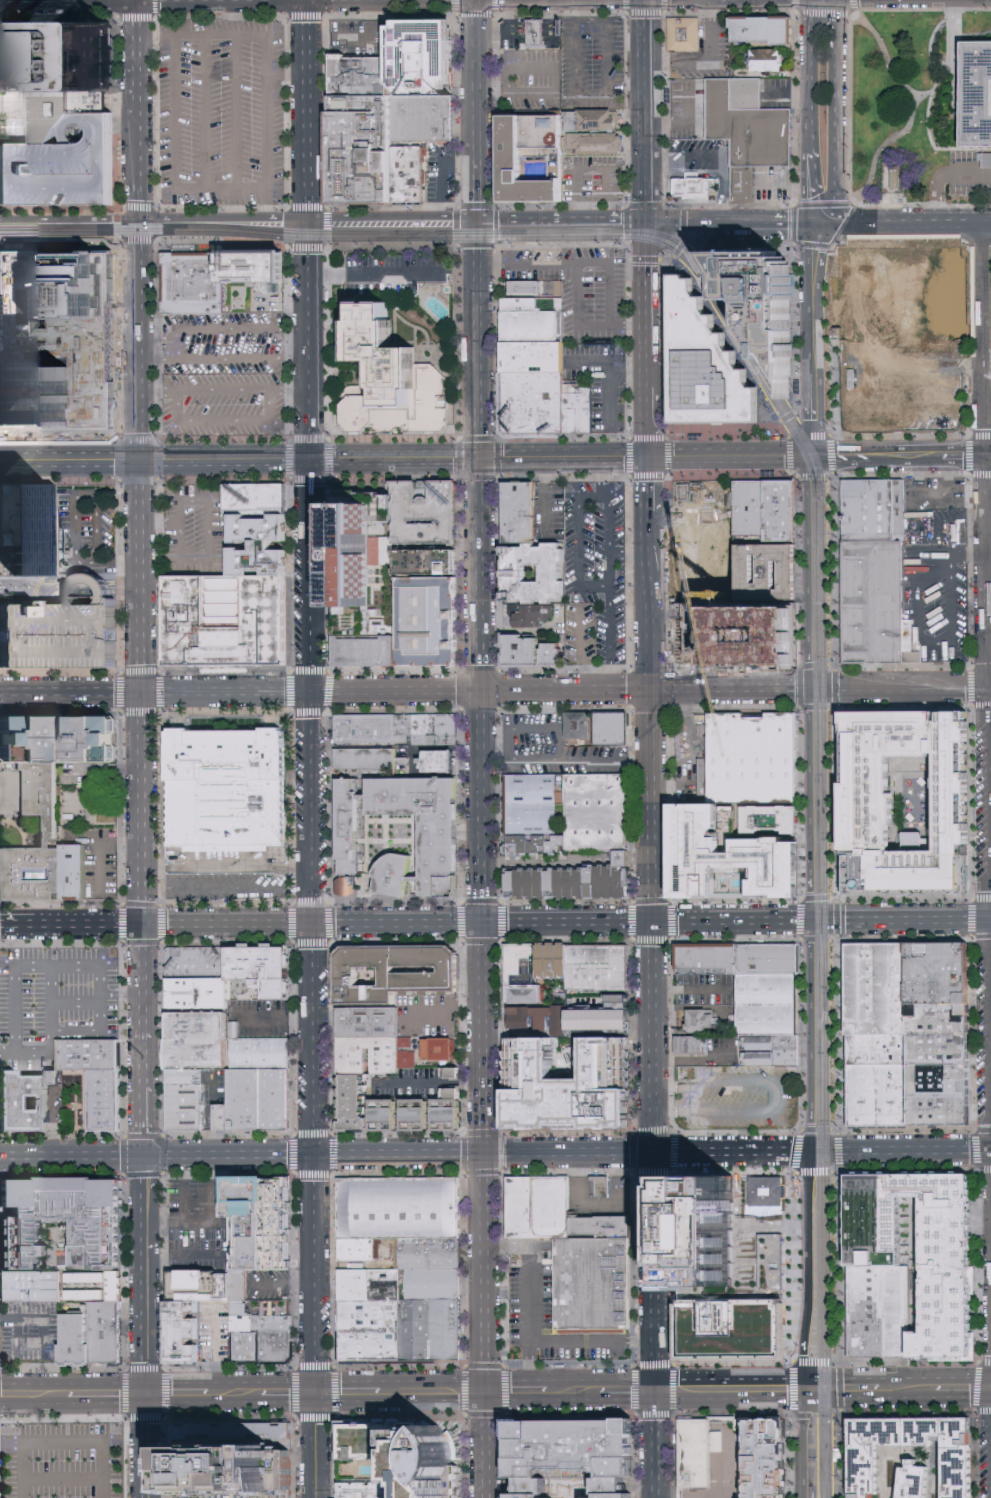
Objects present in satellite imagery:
road: (795, 5)
road: (810, 5)
road: (836, 6)
road: (575, 10)
road: (830, 11)
building: (761, 32)
road: (155, 34)
road: (954, 34)
building: (539, 35)
building: (687, 36)
road: (836, 36)
road: (171, 40)
road: (664, 41)
building: (56, 58)
road: (708, 60)
building: (766, 61)
building: (425, 62)
parking lot: (594, 63)
parking lot: (534, 69)
road: (285, 75)
road: (809, 81)
road: (934, 84)
road: (918, 92)
road: (605, 94)
building: (976, 94)
parking lot: (534, 98)
park: (900, 103)
building: (734, 105)
road: (850, 105)
road: (914, 106)
road: (797, 107)
road: (139, 110)
road: (306, 110)
road: (647, 110)
road: (203, 111)
road: (478, 111)
parking lot: (222, 112)
road: (234, 112)
building: (426, 126)
building: (365, 134)
building: (765, 141)
road: (837, 145)
road: (715, 159)
building: (61, 167)
parking lot: (61, 167)
road: (592, 168)
road: (941, 175)
building: (693, 187)
building: (747, 187)
road: (812, 189)
road: (626, 205)
road: (730, 207)
road: (853, 212)
road: (684, 219)
traffic signals: (648, 220)
road: (70, 221)
traffic signals: (140, 221)
road: (223, 221)
road: (563, 221)
traffic signals: (306, 222)
road: (392, 222)
traffic signals: (478, 222)
road: (733, 223)
road: (797, 223)
road: (990, 224)
traffic signals: (820, 225)
road: (905, 225)
railway: (309, 231)
railway: (138, 232)
railway: (400, 235)
road: (685, 235)
railway: (448, 237)
road: (741, 239)
road: (153, 244)
road: (680, 247)
road: (816, 255)
road: (648, 256)
road: (644, 257)
road: (667, 258)
road: (574, 264)
building: (253, 268)
road: (374, 271)
building: (192, 283)
building: (529, 286)
parking lot: (579, 288)
road: (270, 298)
building: (762, 300)
building: (532, 305)
road: (581, 326)
road: (797, 326)
building: (532, 328)
road: (219, 329)
railway: (746, 332)
railway: (745, 335)
road: (307, 341)
road: (479, 341)
road: (990, 341)
building: (61, 342)
road: (140, 342)
railway: (736, 344)
railway: (743, 350)
building: (533, 358)
road: (223, 359)
road: (814, 361)
road: (607, 362)
building: (705, 366)
parking lot: (223, 375)
road: (649, 375)
building: (390, 381)
road: (158, 390)
road: (288, 390)
road: (668, 397)
building: (531, 402)
building: (577, 411)
road: (611, 411)
road: (783, 419)
road: (269, 422)
road: (782, 433)
road: (828, 434)
road: (811, 447)
road: (790, 452)
road: (900, 457)
traffic signals: (809, 458)
road: (702, 459)
road: (783, 459)
road: (540, 460)
road: (606, 460)
road: (630, 460)
traffic signals: (649, 460)
road: (393, 461)
traffic signals: (480, 461)
road: (223, 462)
traffic signals: (308, 462)
road: (69, 463)
traffic signals: (139, 463)
road: (790, 471)
road: (733, 474)
road: (812, 474)
road: (649, 477)
road: (600, 480)
road: (84, 492)
building: (256, 500)
road: (650, 502)
building: (749, 507)
building: (786, 507)
building: (872, 509)
building: (524, 510)
building: (7, 516)
building: (430, 520)
road: (173, 521)
road: (209, 522)
parking lot: (84, 529)
building: (35, 531)
parking lot: (192, 531)
road: (577, 545)
building: (356, 547)
road: (628, 554)
road: (106, 562)
building: (772, 567)
road: (969, 568)
road: (834, 569)
parking lot: (598, 571)
road: (807, 572)
building: (535, 574)
road: (481, 575)
road: (31, 588)
building: (718, 590)
road: (607, 592)
road: (650, 600)
building: (873, 601)
road: (950, 602)
building: (368, 621)
road: (919, 625)
building: (228, 626)
building: (63, 630)
parking lot: (63, 630)
road: (581, 649)
building: (535, 651)
road: (835, 685)
road: (799, 686)
road: (917, 687)
road: (729, 688)
traffic signals: (808, 688)
road: (826, 688)
road: (566, 689)
traffic signals: (651, 689)
traffic signals: (483, 690)
road: (241, 691)
traffic signals: (310, 691)
traffic signals: (140, 692)
road: (140, 695)
railway: (823, 706)
road: (536, 728)
building: (602, 728)
building: (431, 731)
building: (370, 732)
building: (62, 741)
building: (369, 759)
building: (445, 759)
building: (755, 759)
road: (567, 760)
building: (374, 776)
building: (232, 789)
building: (871, 798)
road: (836, 800)
road: (973, 800)
road: (808, 803)
building: (537, 806)
railway: (820, 807)
building: (602, 812)
building: (429, 825)
building: (50, 828)
building: (353, 829)
building: (743, 846)
road: (226, 866)
building: (398, 876)
building: (346, 884)
road: (227, 885)
road: (837, 917)
road: (801, 918)
traffic signals: (809, 919)
road: (900, 919)
traffic signals: (654, 920)
road: (475, 923)
traffic signals: (483, 923)
road: (71, 925)
traffic signals: (312, 926)
traffic signals: (142, 927)
road: (312, 928)
building: (197, 963)
building: (771, 963)
road: (67, 964)
building: (712, 965)
building: (601, 968)
building: (535, 971)
building: (395, 972)
building: (265, 973)
building: (934, 973)
road: (691, 988)
building: (874, 990)
road: (121, 995)
building: (198, 995)
road: (74, 1001)
parking lot: (54, 1003)
building: (770, 1005)
railway: (817, 1005)
road: (654, 1014)
building: (607, 1016)
road: (276, 1017)
building: (543, 1018)
building: (703, 1019)
railway: (820, 1020)
building: (371, 1021)
road: (48, 1030)
road: (837, 1033)
road: (972, 1033)
road: (483, 1035)
road: (810, 1035)
building: (935, 1035)
road: (142, 1041)
building: (198, 1041)
building: (694, 1042)
building: (439, 1048)
building: (774, 1050)
building: (408, 1052)
building: (876, 1052)
building: (260, 1054)
building: (371, 1054)
building: (91, 1056)
building: (455, 1071)
road: (429, 1082)
building: (571, 1086)
road: (775, 1095)
building: (936, 1096)
parking lot: (736, 1097)
building: (876, 1097)
building: (187, 1099)
building: (25, 1100)
building: (259, 1100)
building: (356, 1100)
building: (106, 1102)
building: (455, 1108)
building: (422, 1112)
building: (390, 1113)
road: (208, 1118)
road: (50, 1124)
road: (837, 1149)
road: (900, 1150)
traffic signals: (809, 1151)
traffic signals: (655, 1152)
road: (798, 1153)
traffic signals: (483, 1155)
traffic signals: (143, 1156)
road: (404, 1156)
traffic signals: (313, 1157)
building: (602, 1187)
road: (209, 1190)
road: (180, 1205)
railway: (826, 1208)
building: (542, 1209)
road: (123, 1213)
building: (398, 1217)
building: (60, 1223)
road: (182, 1224)
parking lot: (194, 1226)
building: (262, 1226)
building: (604, 1228)
building: (920, 1253)
road: (180, 1254)
building: (433, 1258)
road: (839, 1265)
road: (977, 1265)
road: (807, 1269)
building: (739, 1271)
road: (145, 1275)
road: (281, 1284)
building: (598, 1285)
building: (200, 1286)
building: (375, 1287)
building: (433, 1287)
building: (33, 1289)
building: (92, 1289)
road: (526, 1300)
parking lot: (548, 1311)
building: (878, 1313)
road: (6, 1319)
building: (447, 1331)
building: (187, 1332)
building: (375, 1332)
building: (419, 1332)
building: (103, 1333)
parking lot: (28, 1334)
building: (277, 1340)
building: (72, 1341)
road: (590, 1341)
building: (247, 1342)
road: (41, 1344)
road: (653, 1365)
road: (59, 1370)
road: (793, 1377)
road: (839, 1385)
road: (963, 1385)
road: (487, 1386)
road: (840, 1386)
road: (907, 1386)
road: (761, 1387)
traffic signals: (803, 1387)
road: (686, 1389)
road: (571, 1391)
road: (627, 1391)
traffic signals: (653, 1391)
road: (535, 1392)
road: (433, 1393)
traffic signals: (487, 1393)
road: (507, 1393)
road: (288, 1394)
traffic signals: (315, 1394)
road: (347, 1394)
road: (30, 1395)
road: (104, 1395)
traffic signals: (149, 1395)
road: (177, 1395)
road: (233, 1395)
road: (653, 1395)
road: (827, 1414)
building: (927, 1432)
building: (962, 1433)
building: (229, 1440)
road: (61, 1442)
road: (726, 1442)
road: (802, 1442)
road: (487, 1445)
road: (149, 1446)
road: (315, 1446)
building: (571, 1446)
road: (653, 1449)
building: (875, 1451)
building: (406, 1453)
building: (700, 1453)
road: (840, 1453)
road: (815, 1456)
railway: (818, 1457)
railway: (831, 1458)
building: (770, 1459)
parking lot: (65, 1461)
building: (962, 1473)
building: (230, 1477)
road: (61, 1479)
building: (918, 1481)
building: (613, 1490)
building: (373, 1494)

